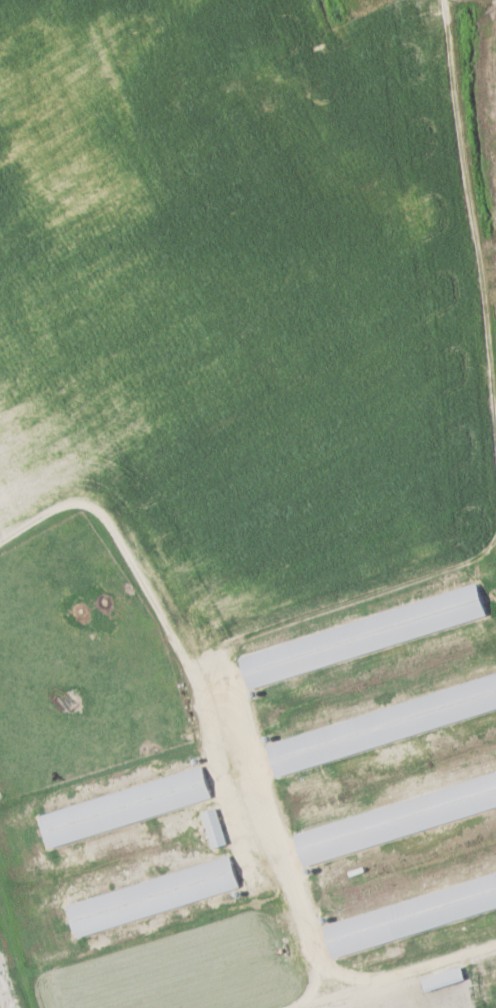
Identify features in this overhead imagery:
building: (365, 636)
building: (383, 726)
building: (127, 807)
building: (397, 820)
building: (216, 828)
building: (495, 874)
building: (155, 897)
building: (412, 917)
building: (445, 979)

